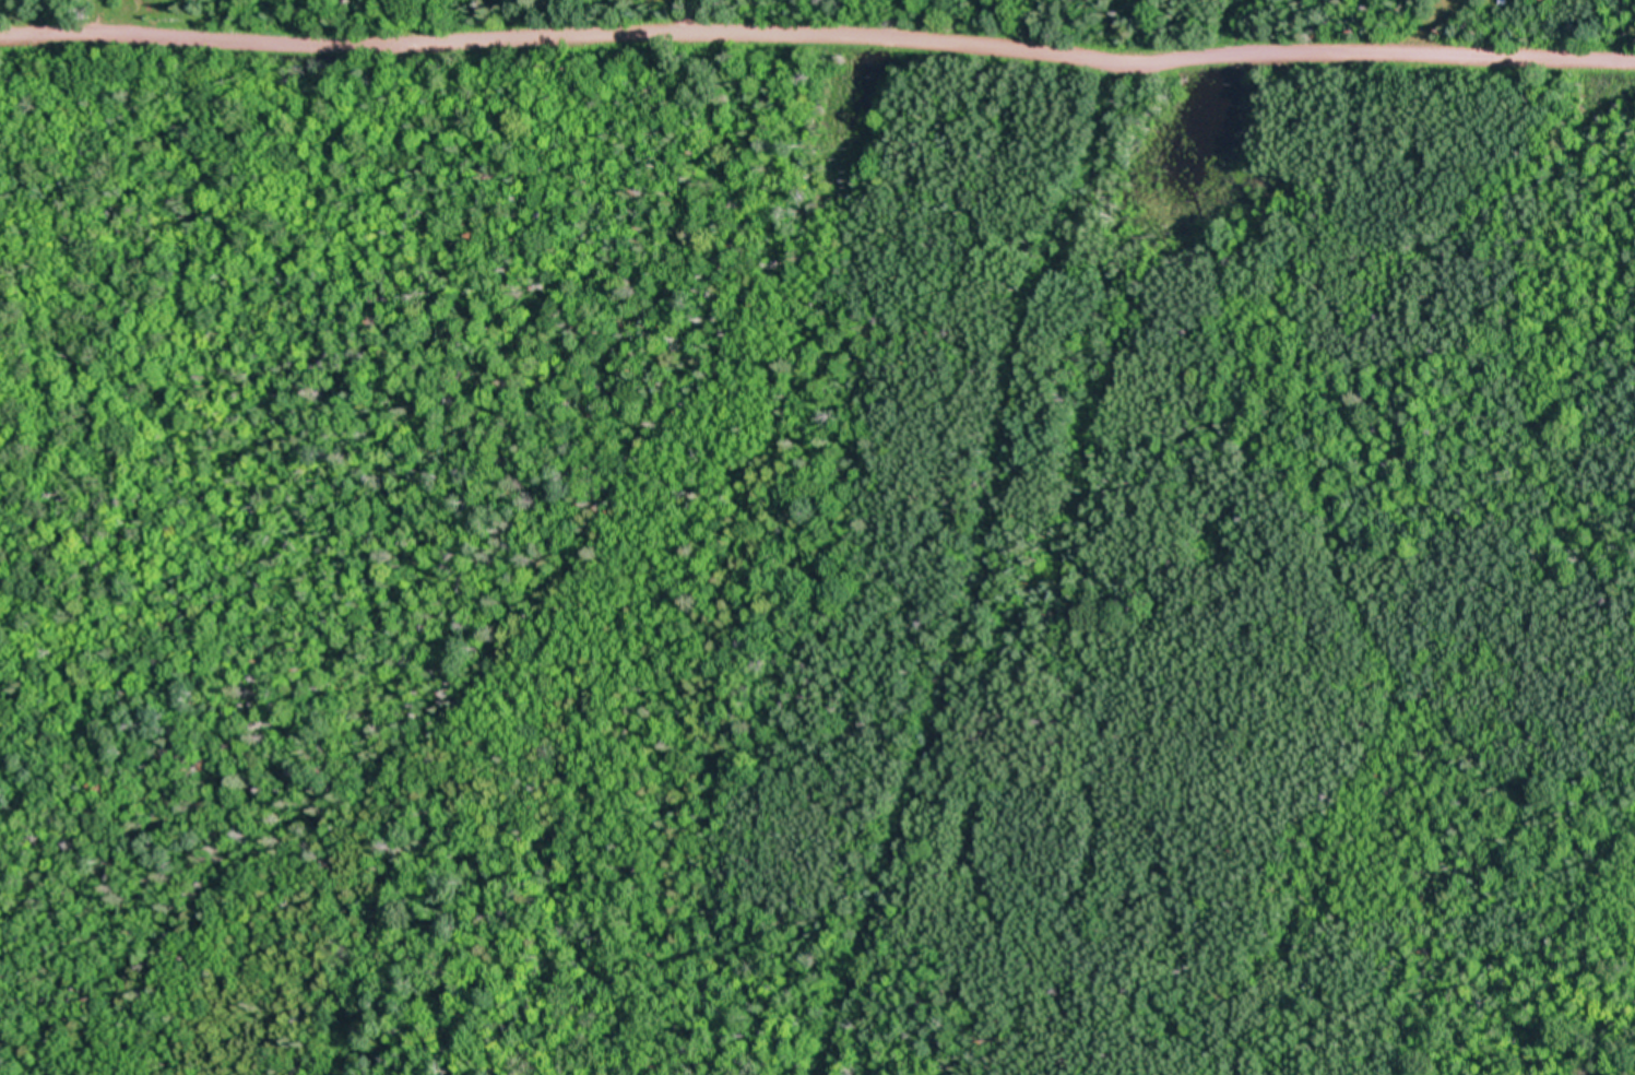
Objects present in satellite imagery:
road: (817, 42)

